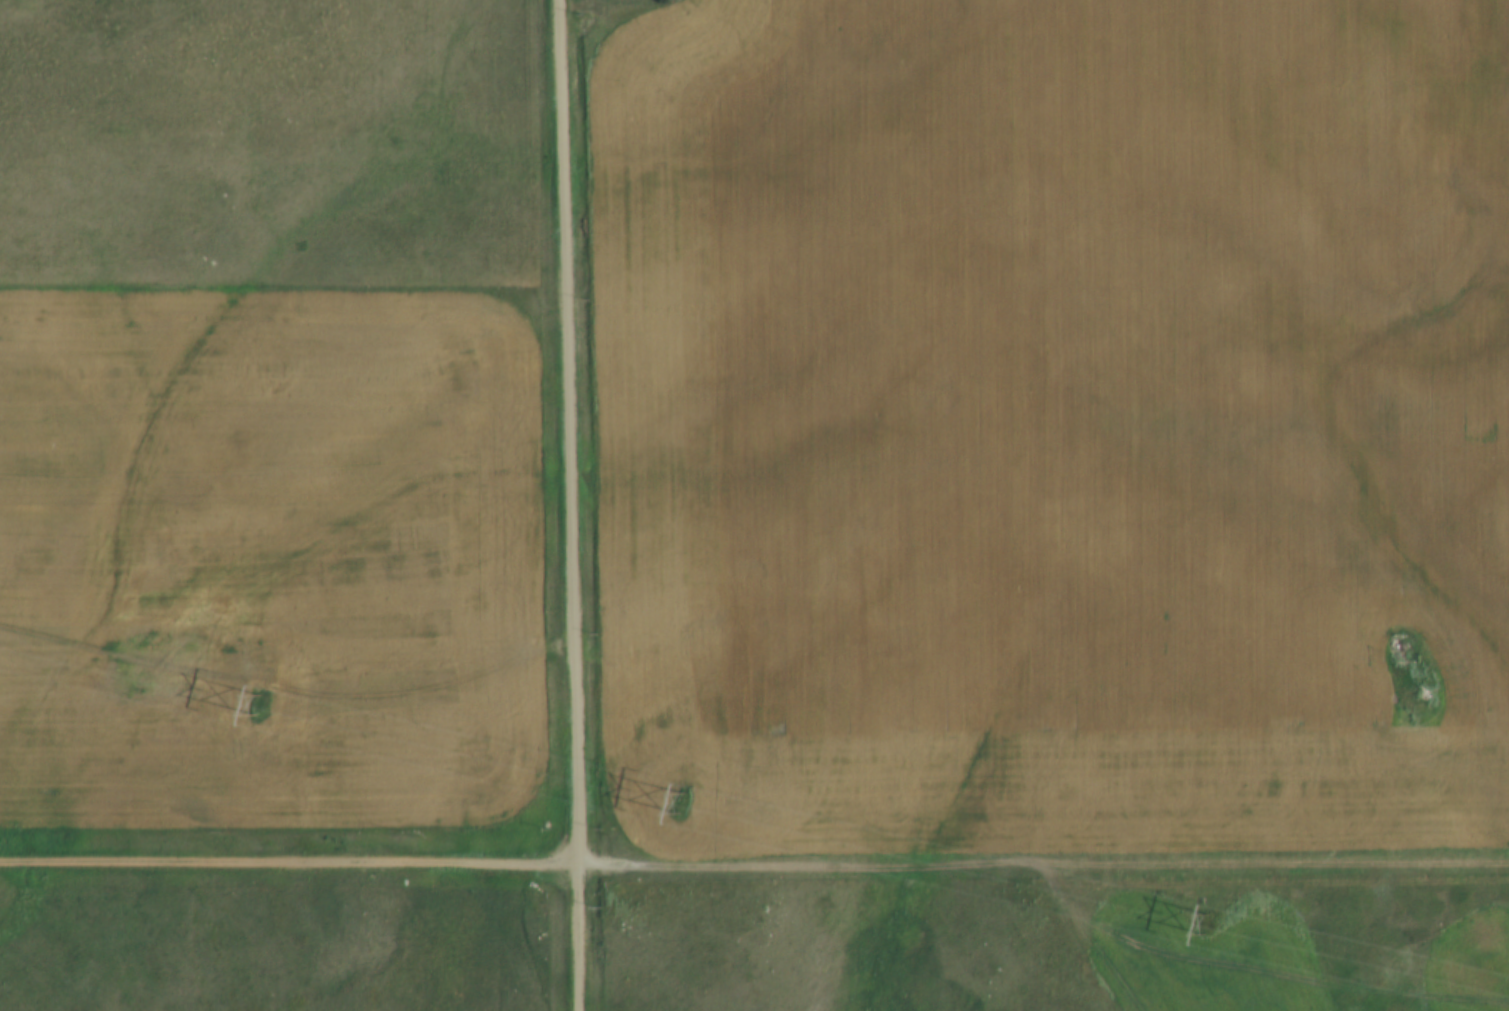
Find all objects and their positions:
road: (568, 430)
road: (288, 863)
road: (578, 935)

